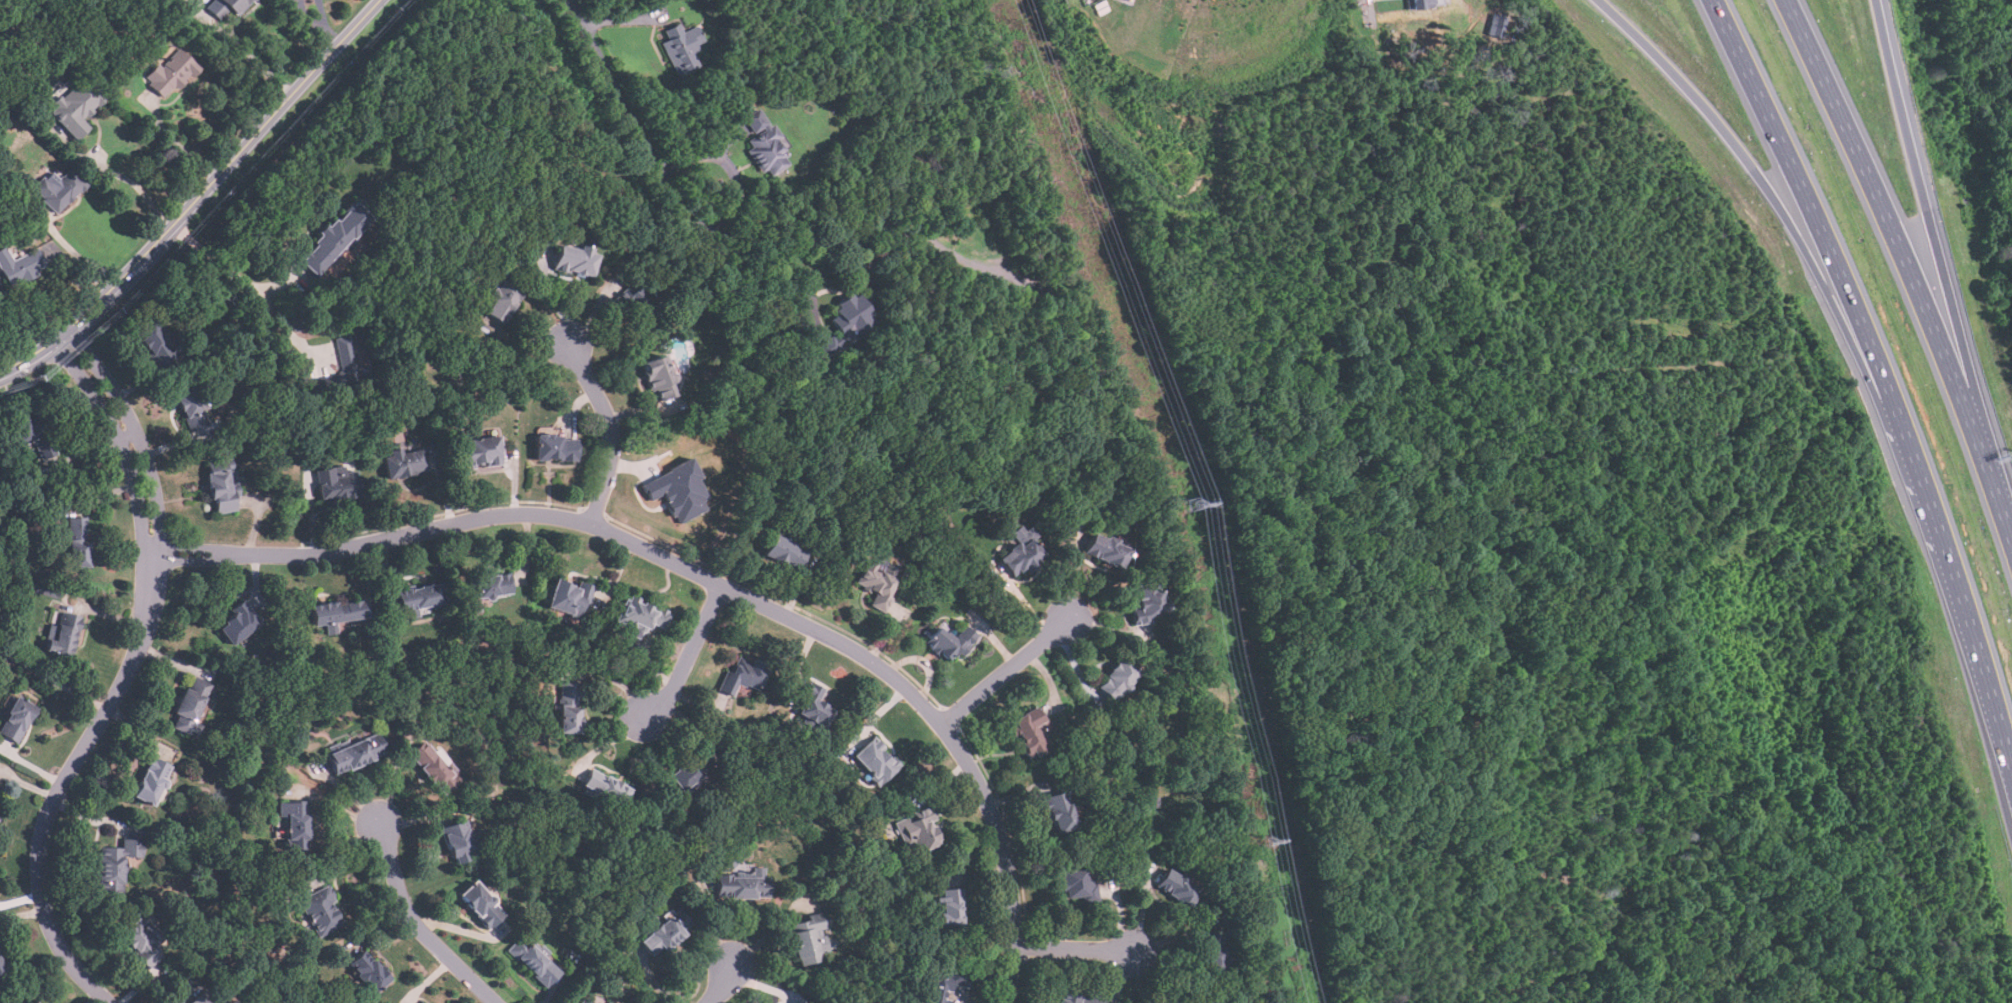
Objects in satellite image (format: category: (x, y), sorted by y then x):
building: (1423, 3)
road: (1368, 4)
building: (226, 6)
building: (1497, 25)
building: (681, 48)
road: (245, 52)
building: (169, 73)
building: (75, 107)
road: (177, 143)
building: (764, 143)
road: (137, 186)
building: (58, 189)
road: (670, 194)
road: (199, 197)
building: (333, 238)
road: (1897, 239)
road: (1933, 242)
road: (1807, 252)
building: (574, 259)
building: (19, 265)
road: (231, 273)
building: (500, 299)
building: (638, 302)
building: (846, 324)
building: (156, 343)
building: (356, 351)
building: (344, 356)
road: (1882, 373)
building: (658, 378)
building: (192, 406)
road: (613, 431)
building: (29, 437)
building: (555, 448)
building: (480, 451)
building: (402, 464)
building: (338, 484)
building: (221, 486)
building: (678, 488)
power tower: (1191, 506)
road: (2004, 508)
building: (78, 542)
building: (1104, 550)
building: (1020, 551)
building: (783, 553)
road: (709, 578)
building: (877, 581)
building: (492, 584)
building: (568, 598)
building: (417, 599)
building: (1146, 602)
building: (336, 612)
building: (639, 617)
building: (238, 622)
building: (64, 634)
building: (948, 643)
road: (691, 654)
road: (1007, 671)
building: (741, 674)
road: (126, 677)
road: (54, 678)
building: (1115, 680)
building: (189, 706)
building: (813, 706)
building: (568, 707)
building: (15, 719)
building: (1029, 731)
building: (354, 751)
building: (875, 759)
building: (432, 765)
building: (689, 768)
building: (149, 779)
building: (604, 785)
building: (1059, 810)
building: (293, 823)
building: (918, 829)
building: (457, 839)
power tower: (1267, 843)
building: (113, 863)
building: (743, 883)
building: (1076, 884)
building: (1176, 886)
building: (479, 903)
building: (950, 905)
building: (320, 910)
road: (419, 925)
building: (664, 931)
building: (804, 937)
building: (139, 938)
road: (1074, 948)
building: (1212, 951)
building: (531, 960)
building: (2, 969)
building: (367, 970)
building: (943, 983)
road: (723, 984)
building: (205, 996)
building: (1075, 998)
building: (32, 1001)
building: (35, 1001)
building: (584, 1001)
building: (1187, 1001)
building: (607, 1002)

